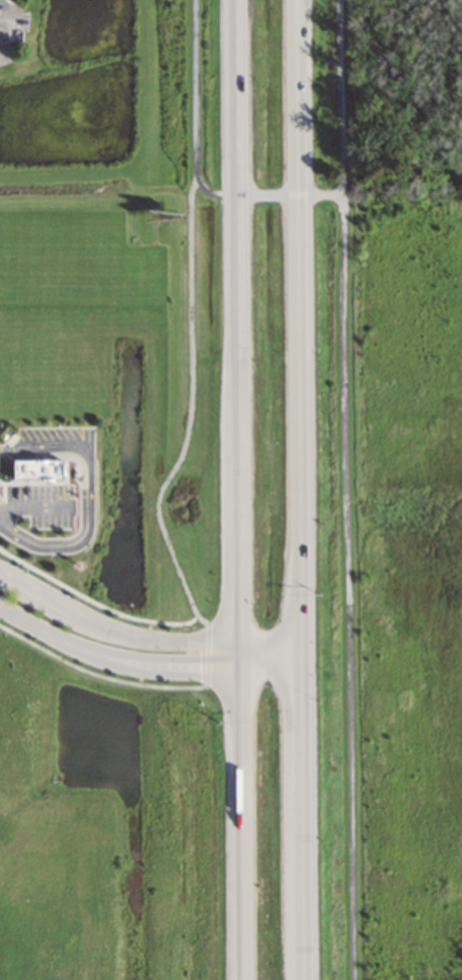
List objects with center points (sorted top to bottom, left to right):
building: (0, 3)
road: (339, 96)
road: (197, 162)
road: (301, 489)
road: (242, 490)
road: (166, 540)
road: (349, 585)
road: (143, 636)
traffic signals: (303, 639)
traffic signals: (243, 640)
road: (145, 664)
traffic signals: (243, 668)
traffic signals: (303, 668)

